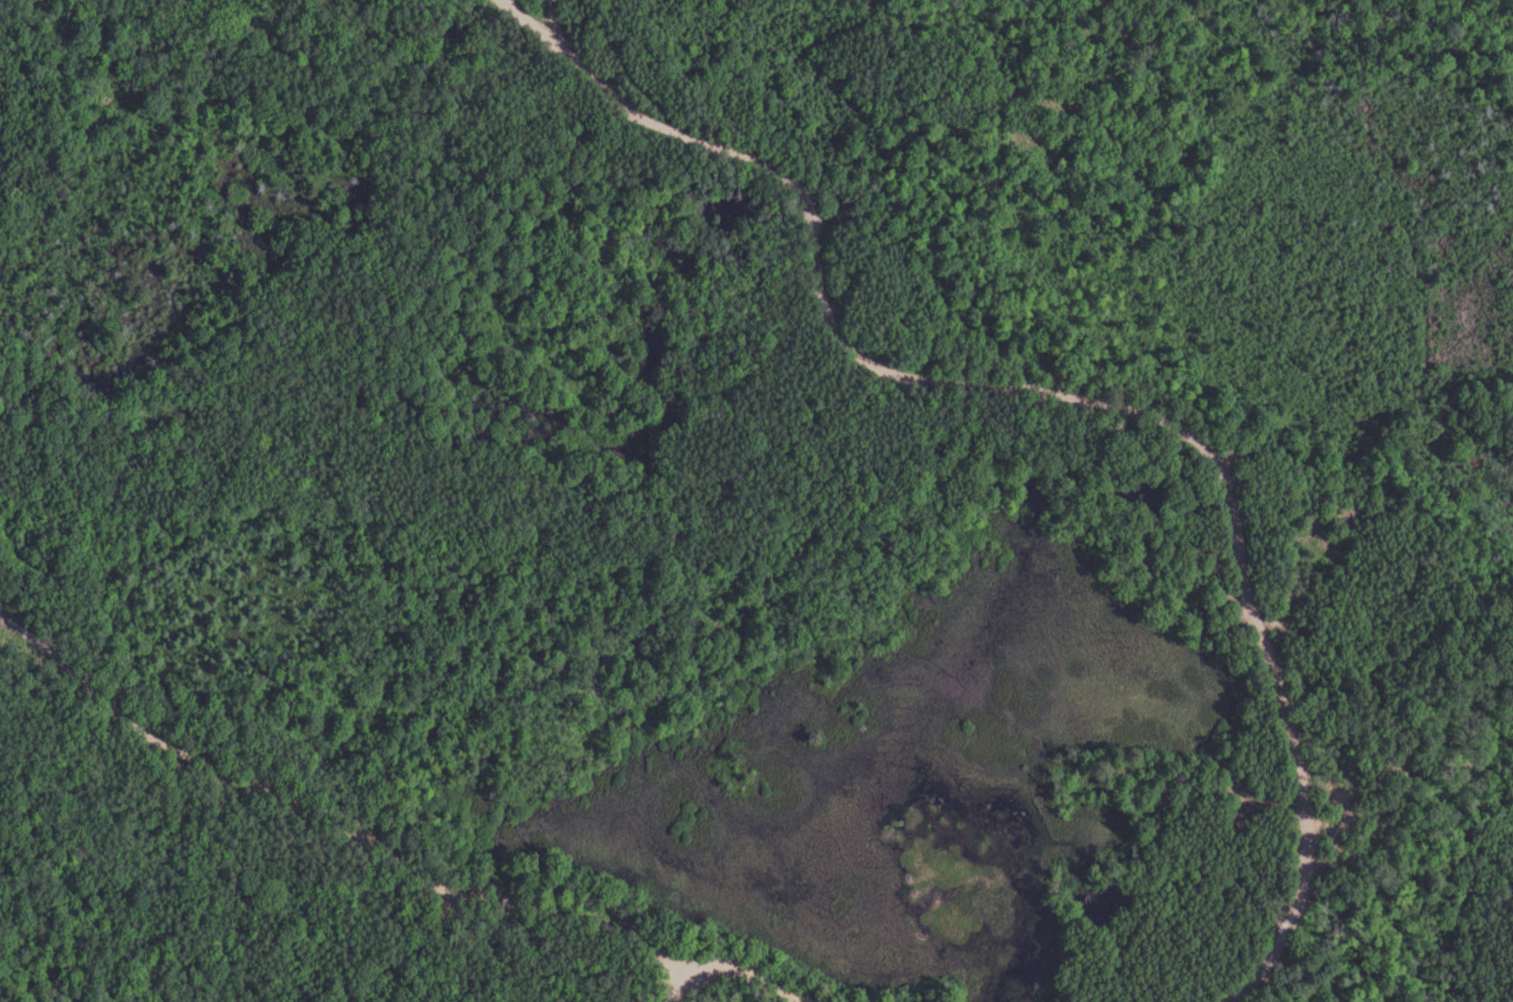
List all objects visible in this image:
road: (1066, 396)
road: (342, 820)
road: (737, 975)

